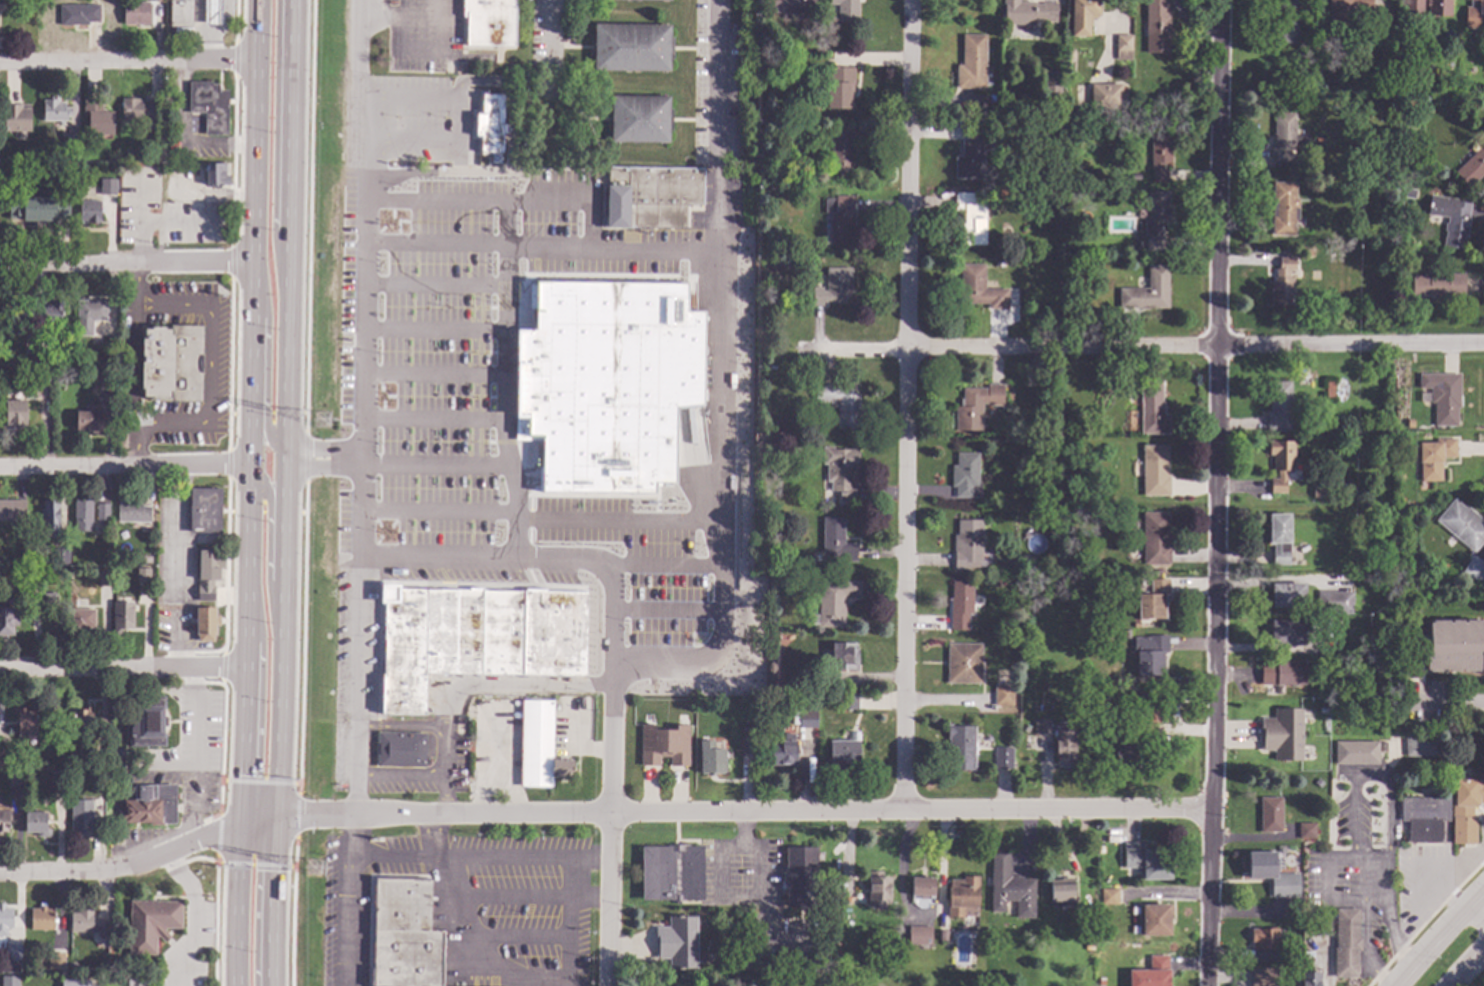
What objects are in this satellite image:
building: (658, 0)
building: (788, 6)
building: (1413, 6)
building: (1439, 7)
building: (847, 10)
road: (398, 11)
building: (1028, 11)
building: (1346, 11)
building: (135, 12)
building: (180, 12)
building: (212, 12)
building: (78, 14)
building: (1474, 14)
building: (1082, 15)
building: (1387, 15)
road: (378, 21)
building: (488, 21)
building: (1285, 22)
building: (1156, 26)
road: (200, 29)
building: (569, 35)
road: (357, 37)
parking lot: (422, 37)
road: (548, 45)
building: (631, 47)
building: (1123, 47)
road: (430, 50)
building: (1070, 54)
building: (773, 58)
road: (128, 59)
road: (234, 59)
building: (972, 62)
building: (840, 87)
building: (1479, 88)
building: (1052, 94)
building: (1106, 95)
building: (209, 105)
building: (138, 109)
building: (54, 110)
building: (1059, 111)
building: (16, 116)
building: (97, 117)
building: (639, 118)
road: (455, 122)
building: (491, 122)
road: (721, 124)
building: (1286, 137)
building: (71, 142)
road: (273, 142)
building: (840, 147)
building: (973, 152)
building: (131, 153)
building: (1384, 153)
building: (38, 155)
building: (1160, 156)
road: (506, 161)
building: (1472, 166)
building: (216, 174)
building: (1135, 176)
building: (1378, 182)
building: (107, 187)
building: (1060, 191)
building: (1409, 191)
building: (649, 196)
road: (501, 200)
building: (1137, 203)
building: (386, 204)
building: (37, 205)
building: (95, 207)
building: (1284, 208)
building: (838, 217)
building: (1156, 218)
building: (971, 219)
road: (507, 223)
building: (1456, 225)
road: (252, 232)
road: (435, 244)
building: (1138, 244)
road: (614, 246)
building: (760, 251)
road: (231, 261)
road: (125, 264)
road: (364, 269)
building: (1282, 282)
road: (210, 284)
road: (435, 285)
building: (1437, 285)
road: (137, 286)
building: (833, 286)
building: (980, 288)
building: (1148, 291)
road: (173, 307)
building: (52, 312)
building: (89, 314)
road: (435, 328)
road: (1128, 345)
building: (40, 356)
building: (25, 357)
building: (172, 363)
road: (134, 367)
road: (209, 368)
road: (435, 372)
building: (105, 373)
building: (41, 374)
road: (265, 374)
building: (607, 382)
building: (1329, 389)
building: (1443, 396)
building: (840, 403)
road: (910, 404)
building: (976, 405)
building: (1279, 406)
building: (1152, 409)
building: (15, 414)
power tower: (323, 419)
road: (435, 419)
building: (88, 420)
building: (1335, 422)
road: (172, 428)
road: (208, 446)
road: (323, 446)
road: (135, 448)
building: (1434, 457)
road: (227, 463)
road: (228, 463)
building: (1281, 463)
road: (323, 464)
building: (742, 464)
road: (435, 466)
road: (104, 468)
building: (742, 470)
building: (840, 470)
building: (1155, 470)
building: (965, 475)
road: (510, 478)
building: (1319, 492)
road: (283, 493)
road: (1217, 493)
building: (12, 509)
building: (205, 510)
road: (719, 510)
building: (102, 511)
road: (438, 512)
building: (132, 513)
building: (50, 514)
building: (83, 515)
road: (616, 520)
building: (1462, 524)
building: (1279, 537)
building: (1155, 538)
building: (149, 539)
building: (836, 540)
building: (968, 543)
road: (267, 546)
building: (152, 547)
building: (60, 556)
road: (658, 565)
building: (1030, 566)
building: (1474, 569)
building: (132, 574)
building: (209, 574)
building: (26, 575)
building: (145, 575)
building: (104, 578)
road: (608, 580)
building: (1140, 581)
building: (997, 583)
building: (1288, 595)
building: (1152, 600)
building: (834, 601)
building: (1334, 601)
building: (960, 604)
road: (664, 609)
building: (122, 616)
building: (82, 619)
building: (770, 619)
building: (8, 620)
building: (204, 623)
building: (1136, 623)
building: (1287, 632)
building: (1126, 633)
building: (474, 640)
building: (769, 645)
building: (1453, 645)
building: (1150, 654)
building: (844, 655)
building: (963, 663)
road: (223, 667)
road: (123, 670)
building: (1282, 672)
building: (816, 676)
road: (508, 686)
building: (119, 694)
building: (1003, 694)
building: (846, 700)
road: (258, 703)
building: (1147, 705)
road: (1450, 705)
building: (556, 707)
building: (767, 712)
building: (804, 718)
building: (25, 721)
building: (80, 721)
building: (147, 721)
road: (243, 725)
road: (357, 725)
road: (401, 726)
building: (1041, 727)
building: (1282, 733)
building: (664, 743)
building: (1063, 743)
building: (1419, 743)
building: (747, 745)
building: (539, 746)
building: (960, 747)
building: (401, 749)
building: (783, 749)
building: (843, 753)
building: (1355, 753)
building: (116, 757)
building: (711, 757)
building: (1134, 757)
building: (2, 758)
building: (1003, 758)
building: (75, 759)
road: (445, 771)
road: (1363, 774)
traffic signals: (242, 775)
road: (400, 775)
building: (16, 777)
building: (57, 777)
traffic signals: (256, 777)
road: (258, 782)
building: (150, 805)
building: (1465, 809)
road: (743, 811)
building: (1270, 814)
road: (295, 815)
traffic signals: (302, 815)
building: (83, 818)
building: (1424, 818)
building: (4, 821)
building: (36, 823)
building: (1306, 830)
building: (790, 834)
building: (116, 836)
road: (430, 836)
road: (609, 836)
traffic signals: (195, 842)
road: (395, 857)
road: (515, 857)
road: (597, 858)
road: (763, 861)
building: (1147, 861)
road: (141, 863)
road: (231, 863)
power tower: (315, 868)
traffic signals: (257, 871)
traffic signals: (272, 872)
building: (672, 872)
building: (1270, 872)
building: (800, 876)
road: (1325, 878)
building: (922, 886)
building: (846, 887)
building: (1010, 887)
building: (878, 888)
building: (1061, 892)
building: (1109, 896)
building: (962, 897)
road: (589, 898)
road: (255, 901)
building: (1311, 914)
road: (193, 916)
building: (41, 917)
building: (5, 919)
building: (1152, 919)
road: (1477, 920)
building: (86, 921)
road: (569, 921)
building: (155, 927)
building: (1323, 927)
building: (403, 933)
building: (941, 934)
building: (919, 936)
building: (1264, 937)
building: (677, 941)
building: (1346, 941)
road: (465, 943)
road: (1443, 943)
building: (13, 952)
building: (1289, 952)
building: (57, 963)
road: (1466, 967)
building: (1285, 972)
building: (1151, 973)
building: (1262, 977)
building: (136, 978)
building: (1309, 978)
building: (9, 980)
building: (75, 982)
building: (727, 982)
building: (743, 985)

